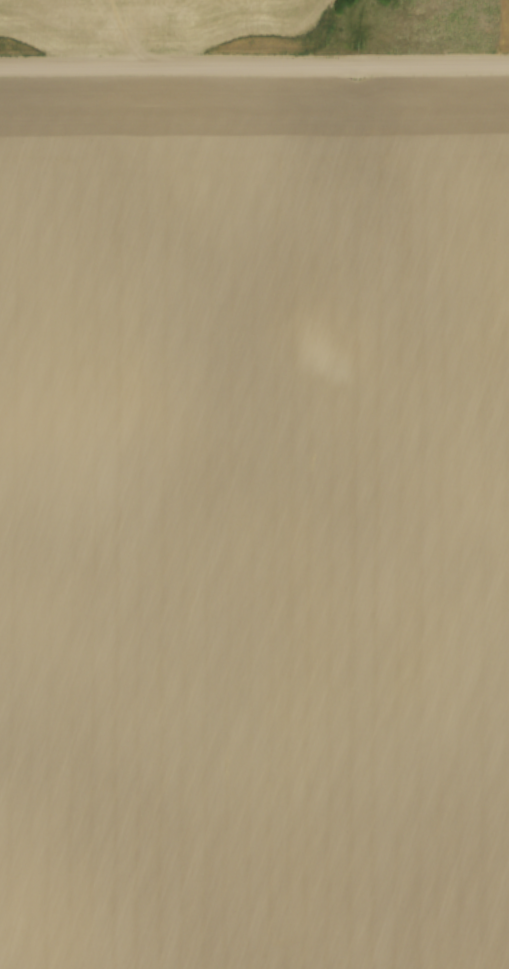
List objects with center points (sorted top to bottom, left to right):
crop: (163, 22)
crop: (450, 22)
road: (254, 66)
crop: (254, 523)

